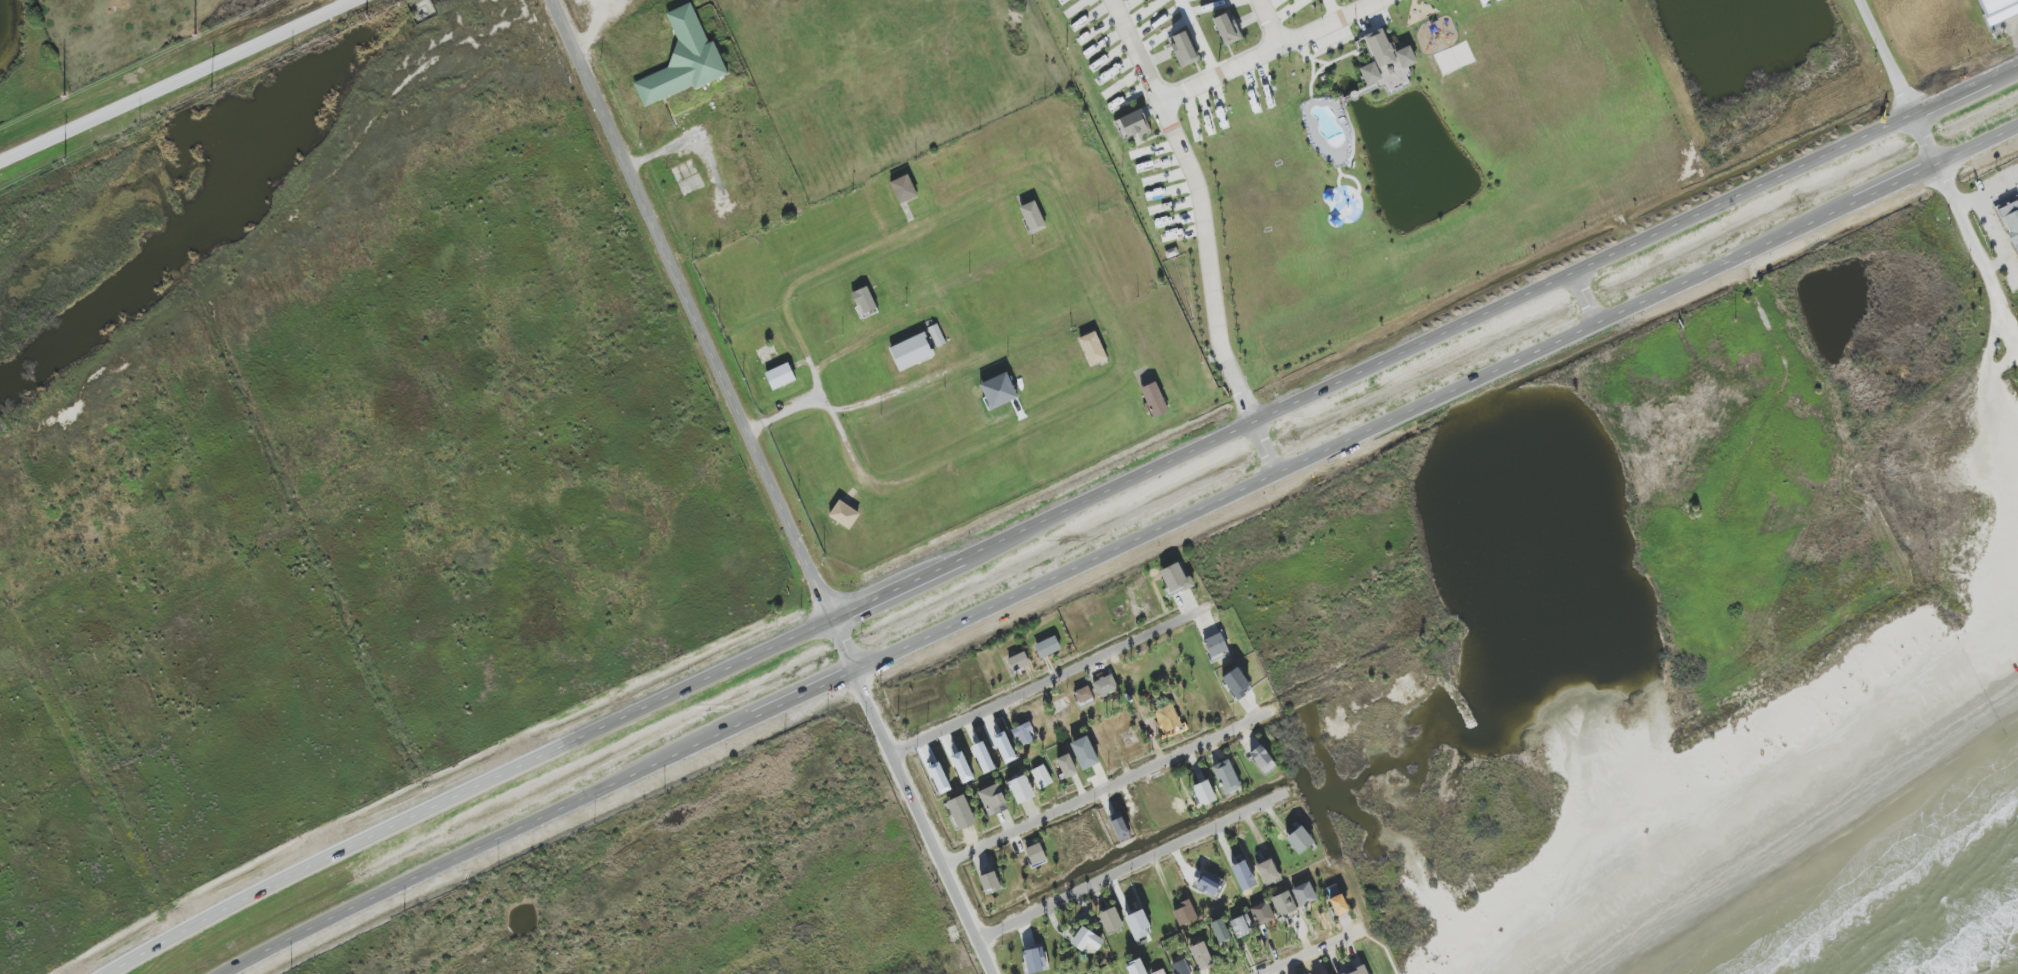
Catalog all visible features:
building: (1997, 10)
road: (1271, 23)
building: (1226, 29)
road: (1200, 38)
building: (1183, 49)
road: (1271, 52)
building: (683, 59)
building: (1385, 61)
road: (176, 80)
road: (1898, 83)
building: (1132, 125)
building: (903, 189)
road: (1990, 205)
road: (1200, 206)
building: (1032, 217)
building: (2010, 221)
road: (1067, 238)
road: (2002, 246)
road: (1978, 250)
road: (1583, 298)
building: (863, 300)
road: (700, 333)
building: (1092, 348)
building: (911, 352)
building: (780, 376)
road: (1787, 383)
building: (998, 391)
building: (1154, 400)
road: (1263, 447)
road: (1059, 513)
building: (843, 515)
road: (1117, 543)
building: (1175, 580)
building: (1216, 646)
building: (1047, 647)
building: (1018, 662)
building: (1235, 683)
building: (1104, 686)
road: (1036, 687)
building: (1084, 697)
building: (1167, 718)
building: (1024, 733)
building: (1003, 747)
building: (1084, 753)
building: (982, 757)
building: (1262, 760)
building: (1066, 766)
building: (961, 767)
building: (1041, 777)
building: (1225, 777)
building: (938, 778)
building: (1020, 789)
building: (1203, 793)
road: (1088, 798)
building: (992, 800)
building: (960, 812)
road: (923, 821)
building: (1120, 829)
building: (1299, 840)
building: (1035, 854)
road: (1134, 866)
building: (1267, 871)
building: (1243, 876)
building: (989, 883)
building: (1207, 886)
building: (1303, 894)
building: (1283, 904)
building: (1338, 905)
building: (1184, 913)
building: (1262, 914)
building: (1110, 920)
building: (1137, 923)
building: (1241, 926)
building: (1219, 931)
building: (1086, 940)
building: (1200, 955)
road: (1307, 955)
building: (1035, 960)
building: (1135, 967)
building: (1180, 968)
building: (1358, 971)
building: (1159, 972)

